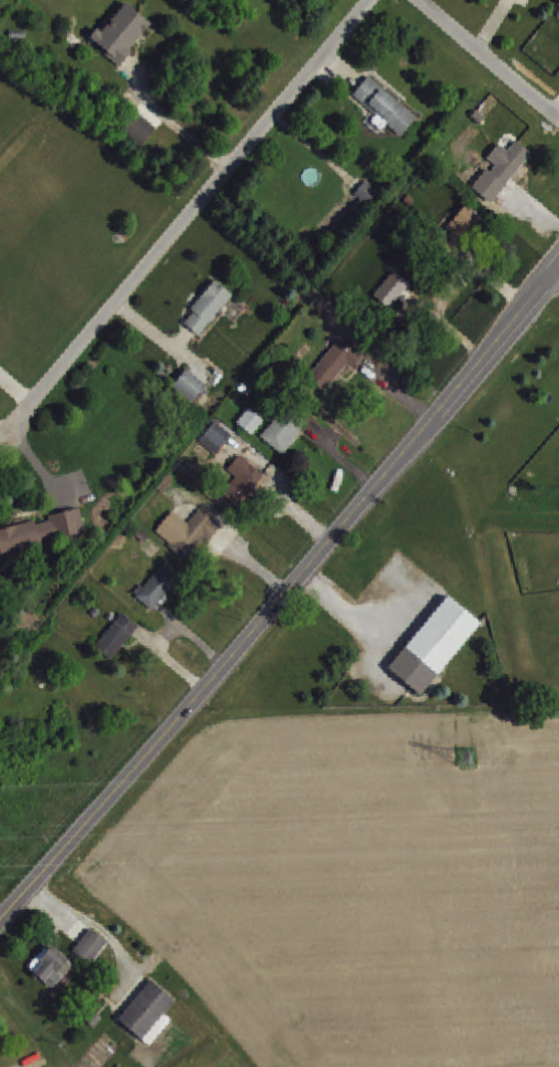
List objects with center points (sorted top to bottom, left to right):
building: (124, 34)
road: (487, 60)
building: (388, 108)
road: (181, 127)
building: (142, 129)
building: (511, 163)
building: (368, 192)
road: (191, 218)
building: (463, 230)
road: (557, 276)
building: (393, 290)
building: (210, 309)
building: (337, 365)
building: (192, 387)
road: (18, 391)
building: (253, 422)
building: (286, 432)
road: (5, 438)
building: (219, 438)
building: (245, 481)
building: (44, 532)
building: (189, 533)
building: (160, 587)
road: (286, 603)
building: (119, 637)
building: (437, 646)
power tower: (461, 760)
building: (93, 947)
building: (54, 967)
building: (150, 1014)

